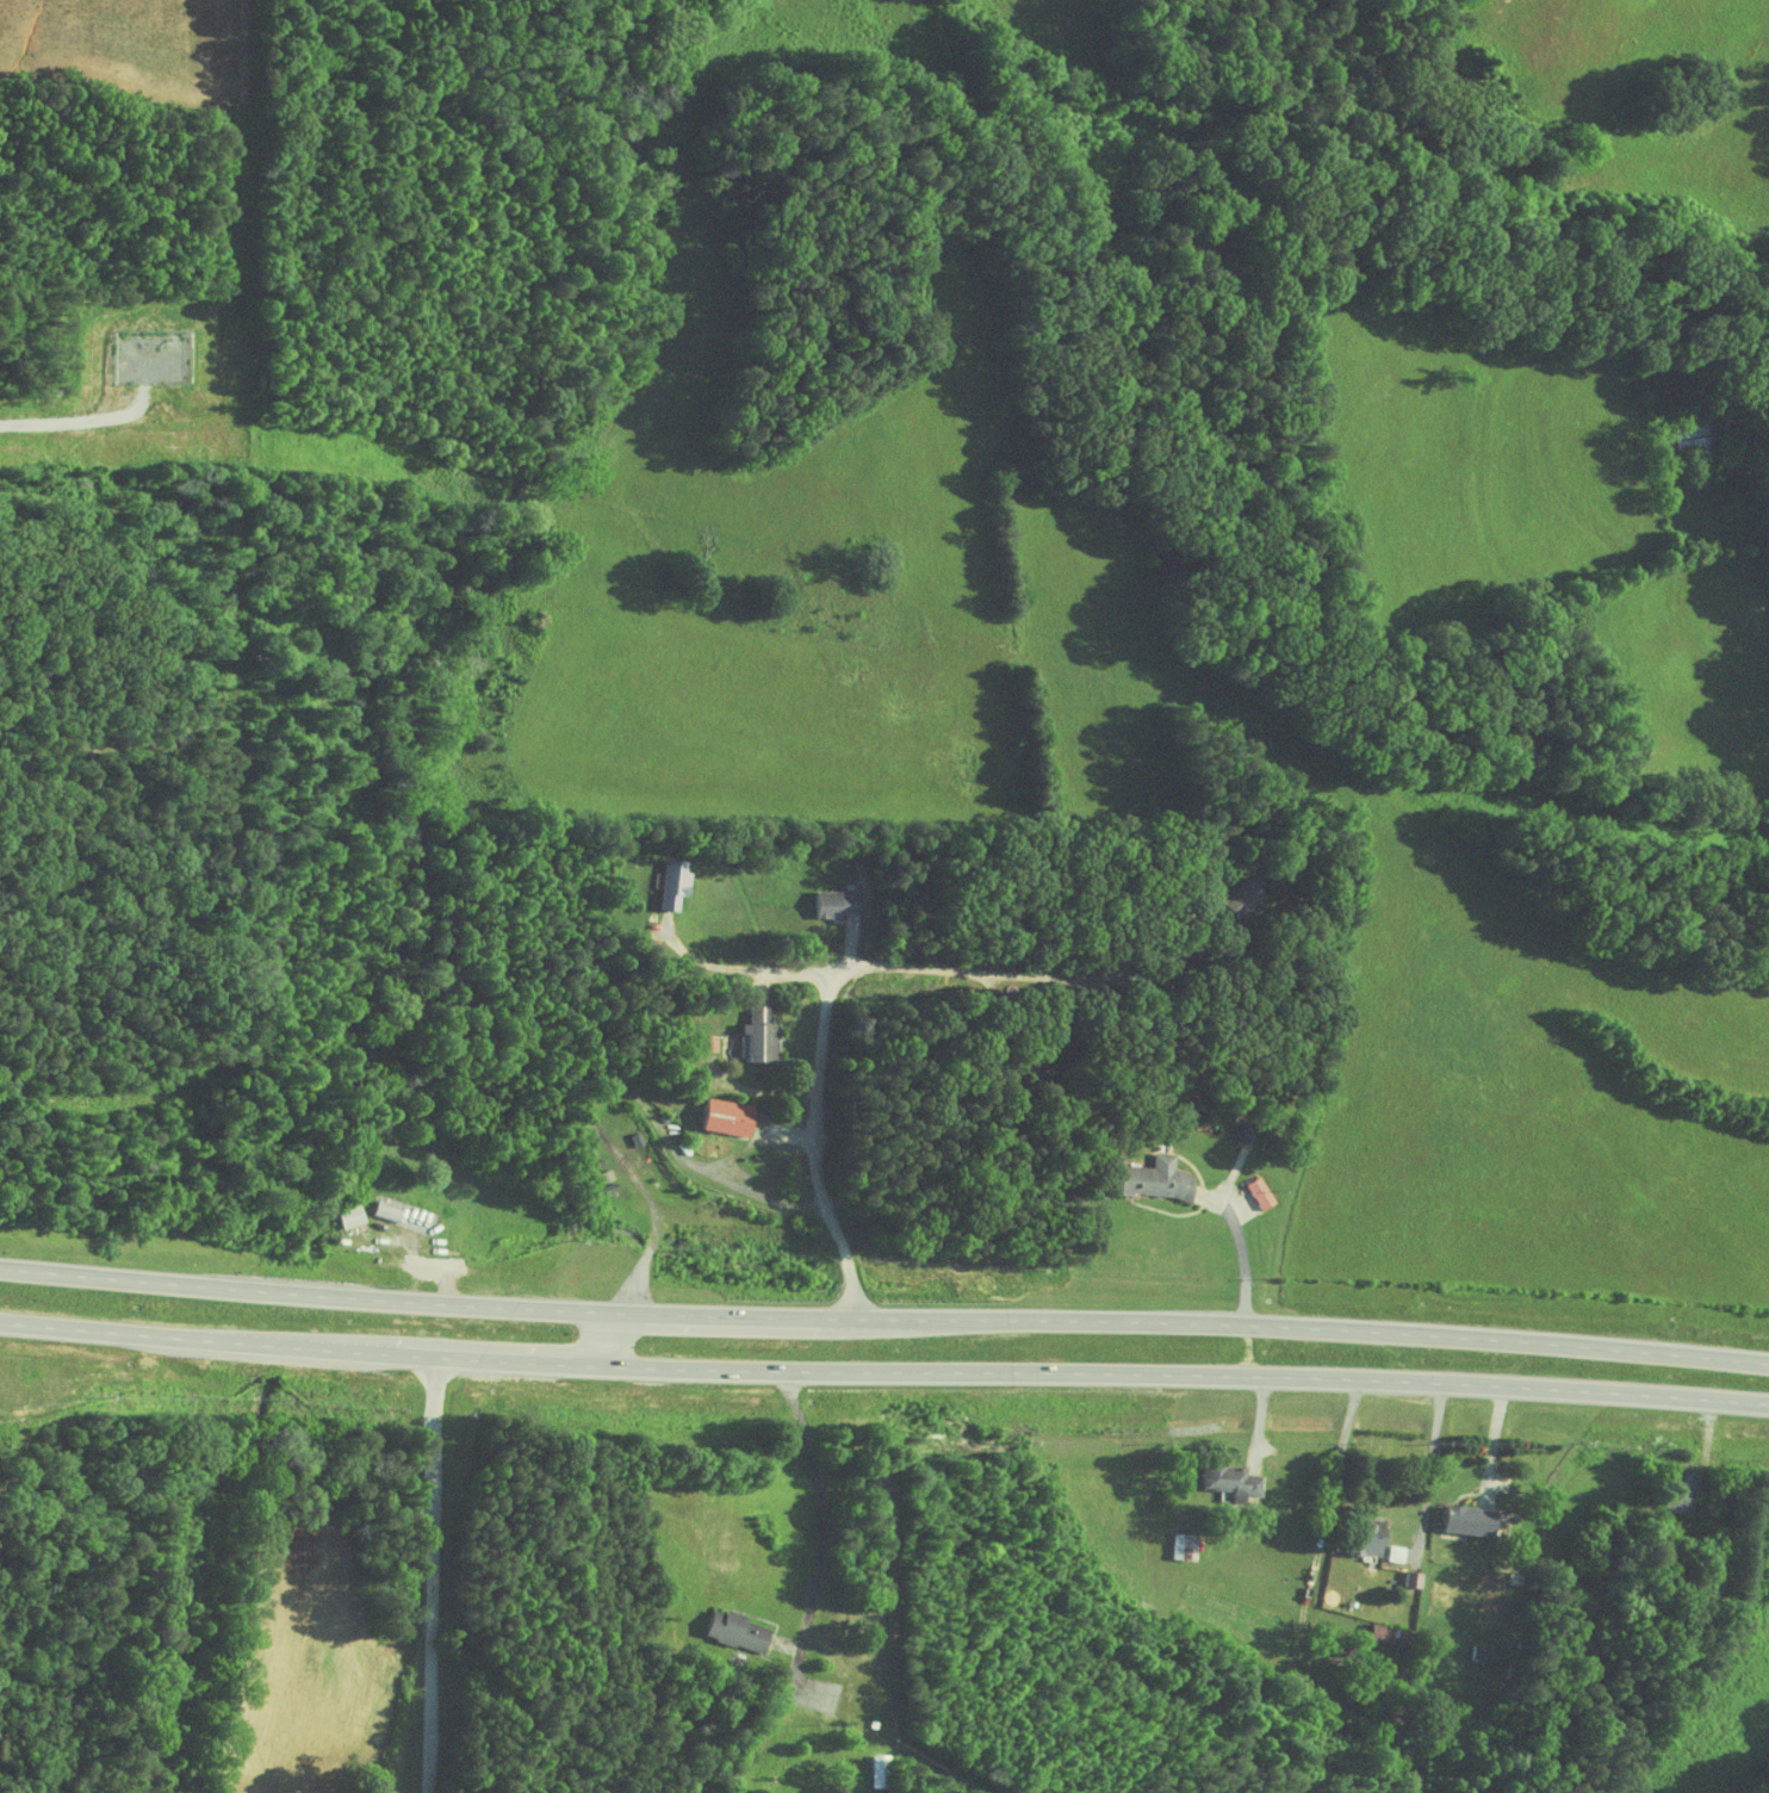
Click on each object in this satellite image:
building: (1683, 434)
building: (666, 885)
building: (1231, 901)
building: (827, 904)
road: (741, 967)
road: (830, 997)
building: (753, 1034)
building: (706, 1042)
building: (716, 1116)
building: (1241, 1134)
building: (1141, 1178)
building: (1254, 1192)
building: (380, 1211)
building: (347, 1216)
road: (1241, 1241)
road: (883, 1319)
road: (615, 1340)
road: (883, 1372)
road: (1427, 1470)
building: (1223, 1479)
building: (1674, 1490)
building: (1458, 1519)
building: (1360, 1537)
building: (1177, 1546)
building: (1390, 1553)
road: (435, 1575)
building: (1407, 1578)
building: (730, 1631)
building: (1382, 1634)
building: (1473, 1652)

